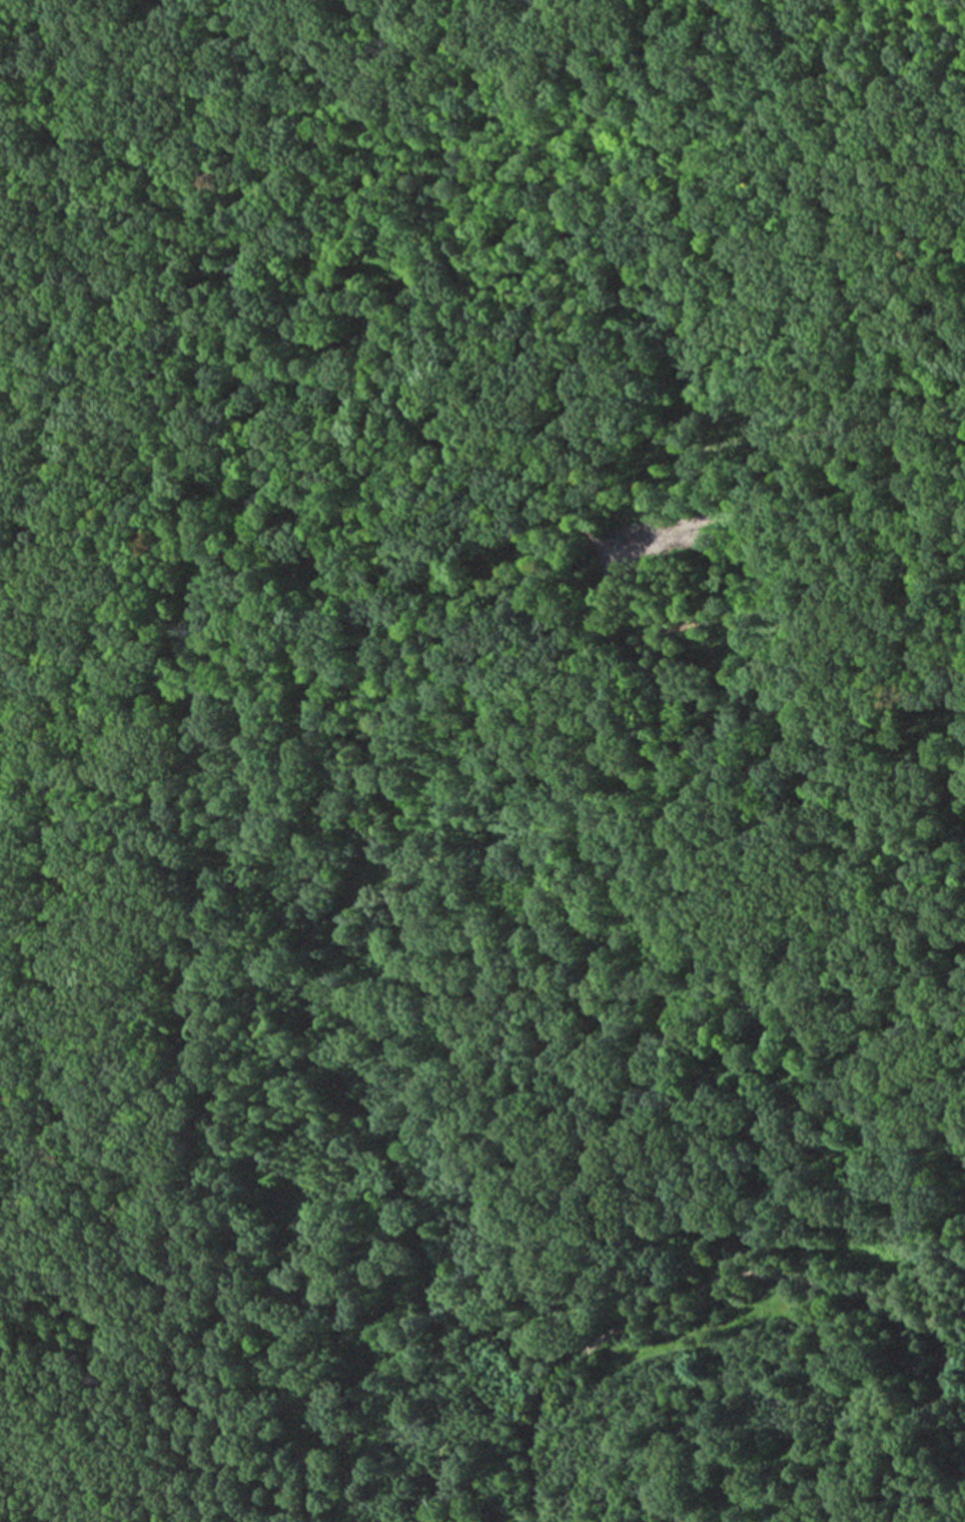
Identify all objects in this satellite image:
road: (682, 1292)

